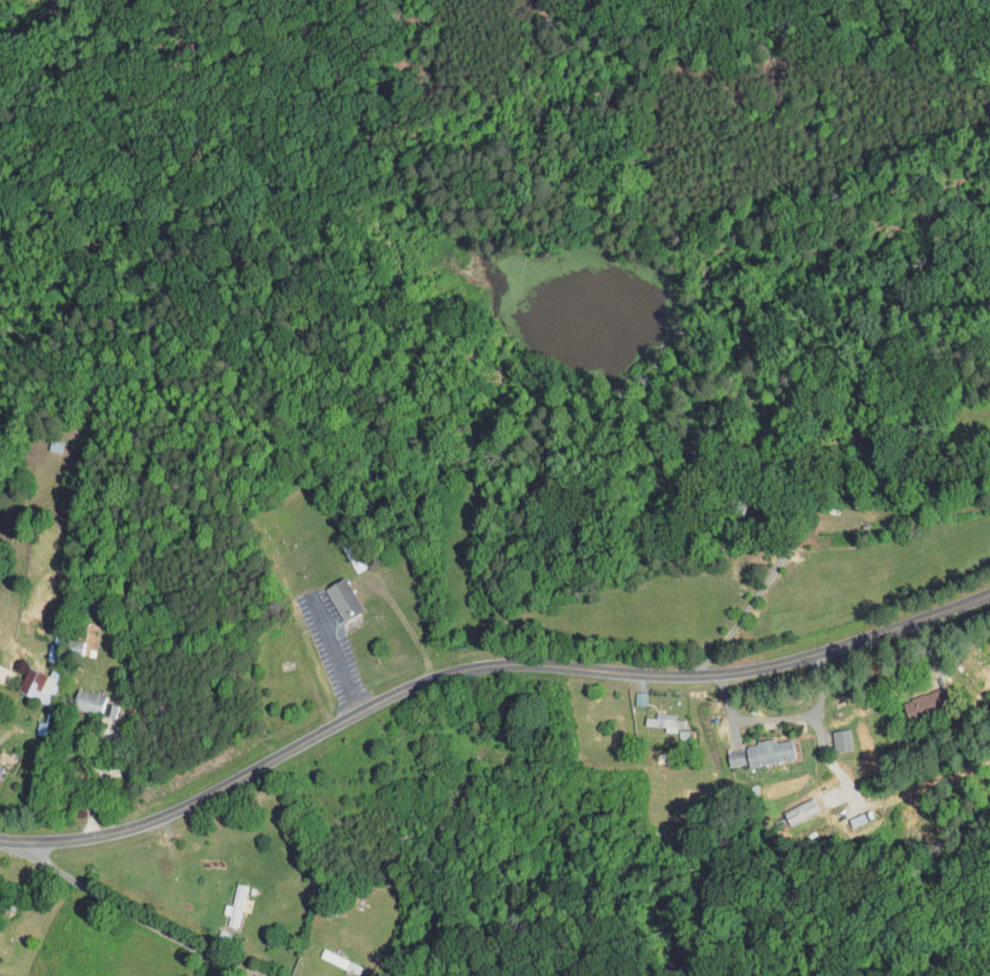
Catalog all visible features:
road: (786, 548)
building: (331, 593)
building: (62, 641)
road: (333, 655)
road: (481, 667)
building: (25, 679)
building: (73, 695)
building: (912, 698)
building: (653, 716)
road: (800, 716)
building: (829, 734)
building: (756, 746)
building: (724, 752)
road: (96, 780)
building: (788, 805)
building: (223, 900)
road: (125, 907)

